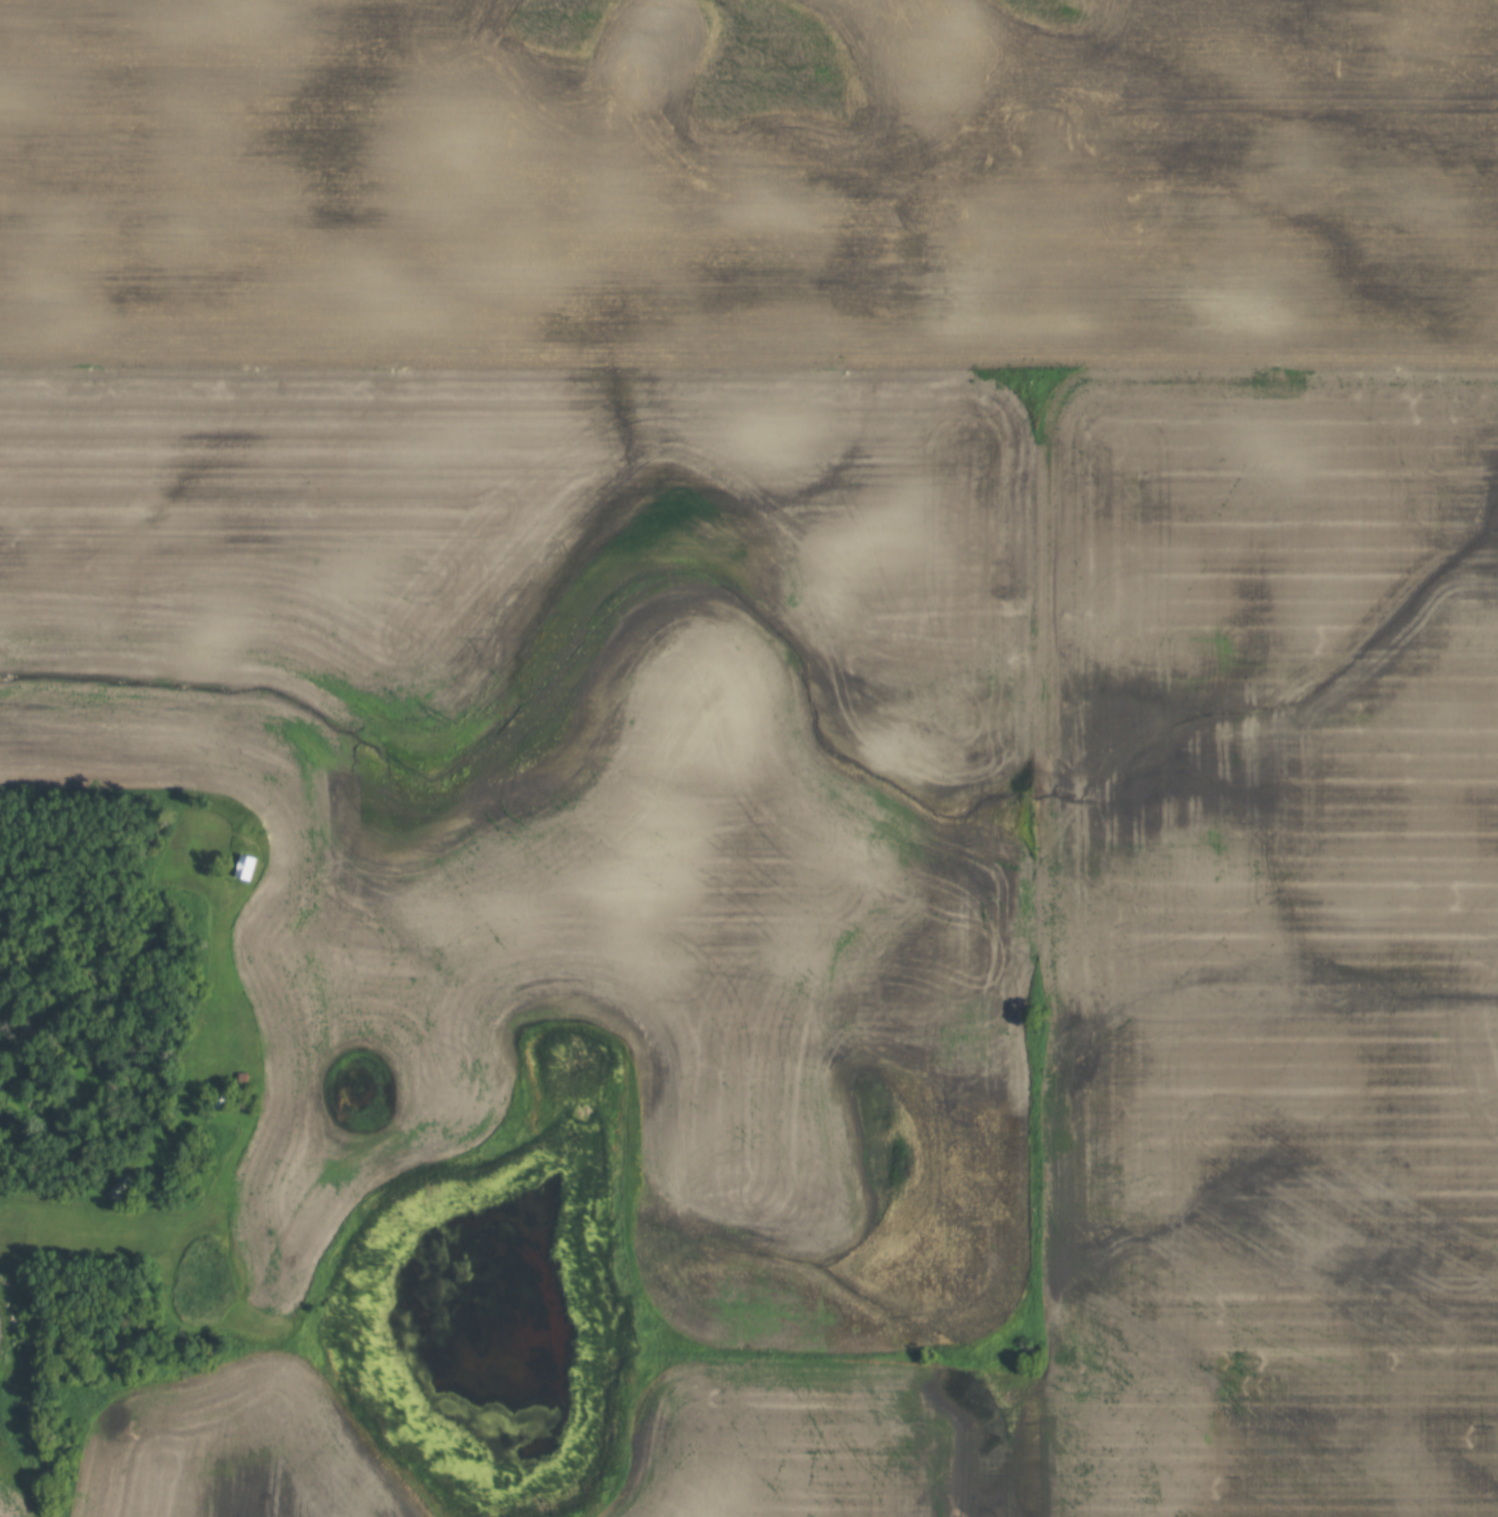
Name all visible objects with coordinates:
building: (241, 867)
road: (122, 1214)

